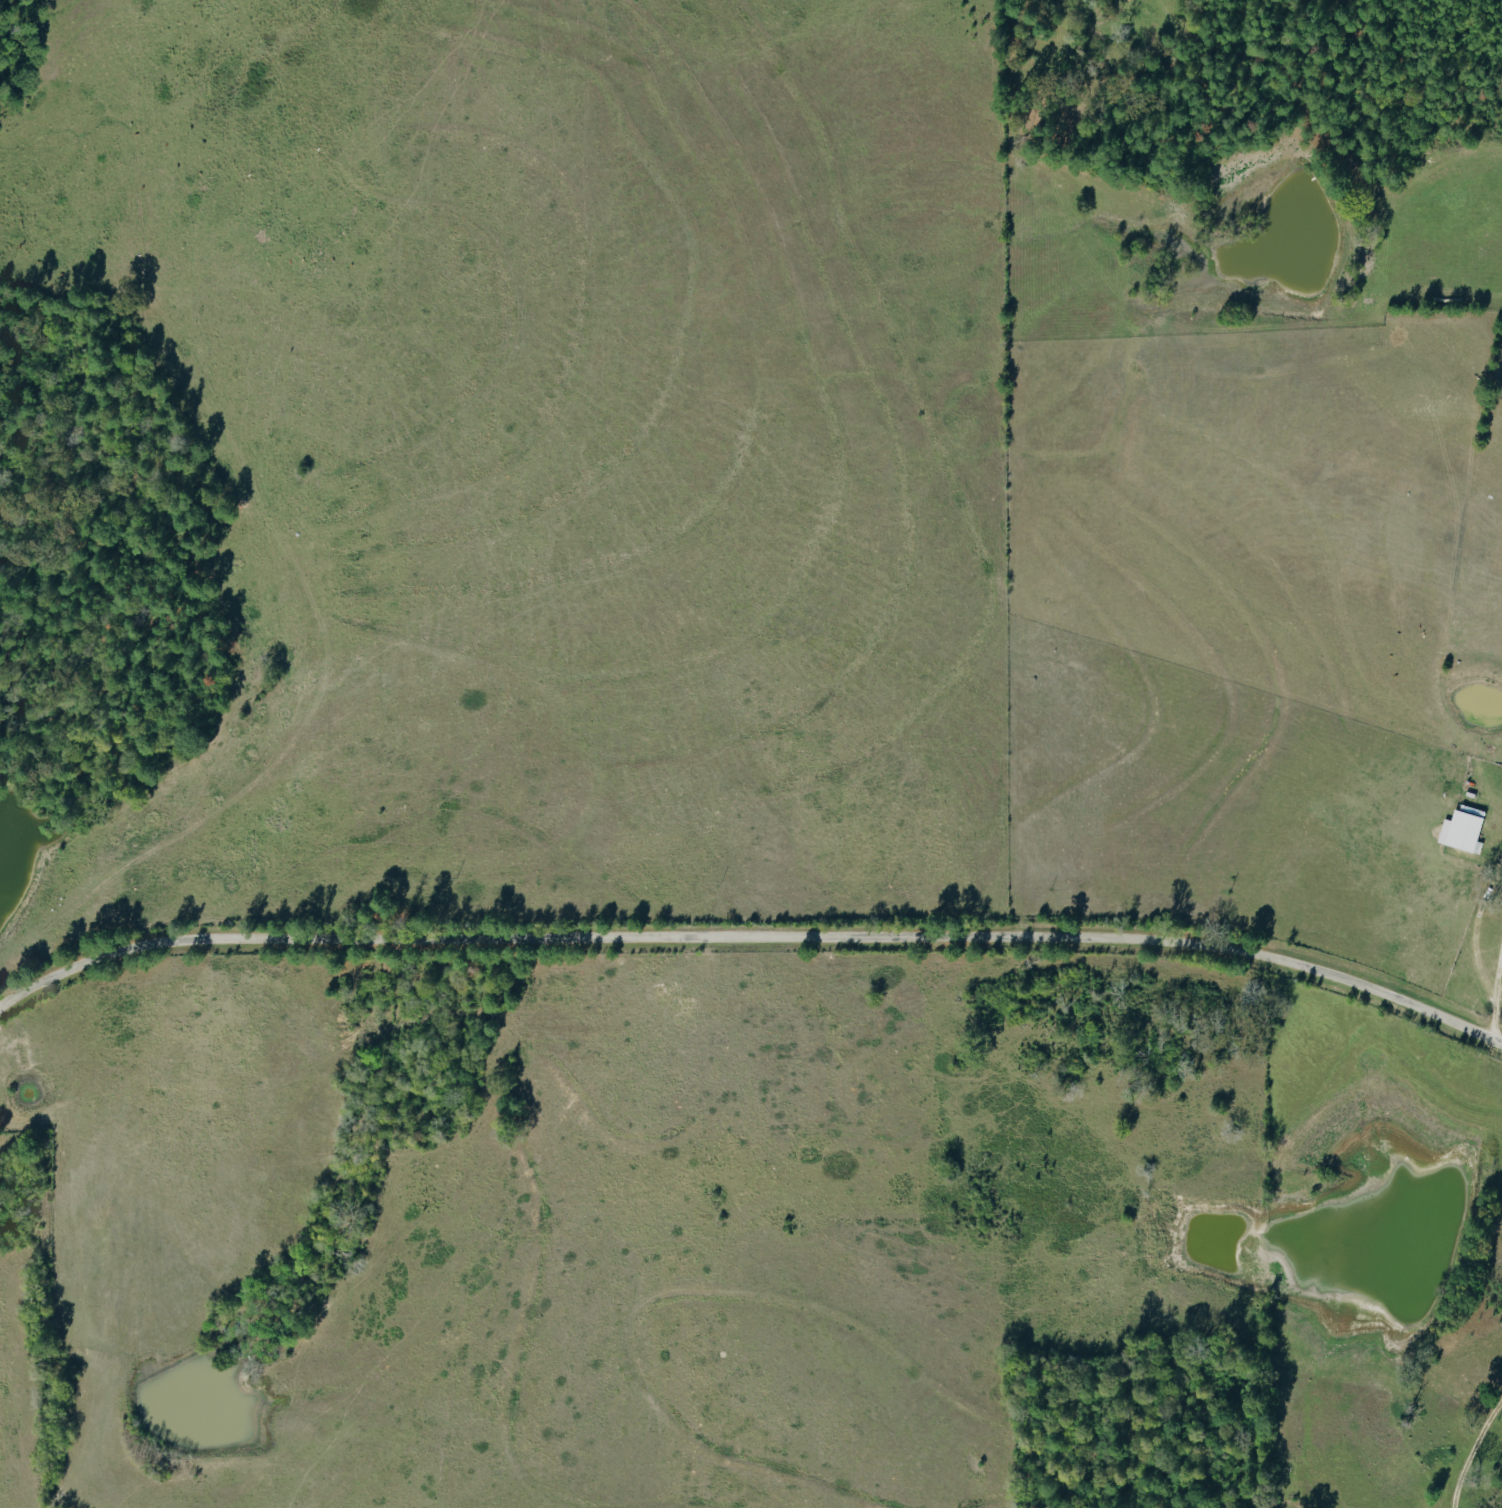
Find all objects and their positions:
building: (1462, 831)
road: (756, 934)

